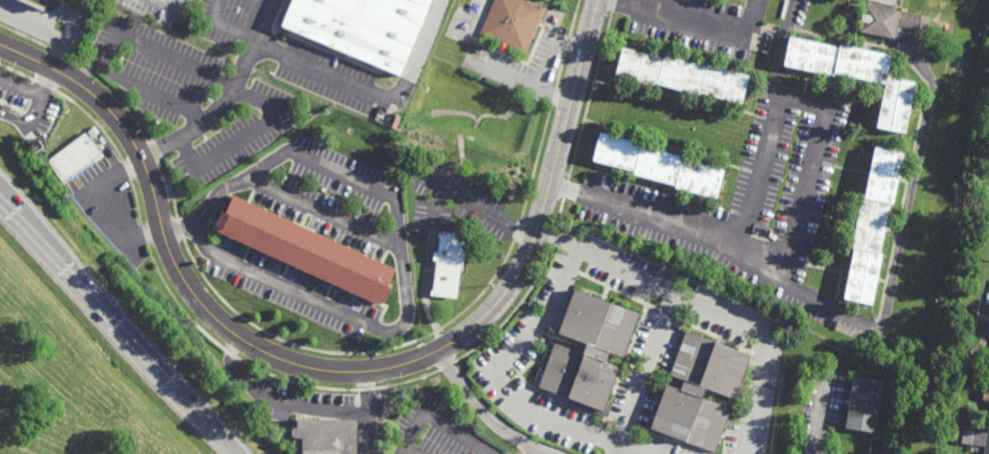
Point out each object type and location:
road: (266, 1)
building: (40, 2)
road: (160, 10)
building: (886, 21)
road: (697, 23)
building: (511, 24)
road: (222, 27)
building: (360, 28)
road: (44, 30)
road: (782, 47)
road: (552, 50)
road: (196, 69)
building: (680, 76)
building: (855, 76)
road: (520, 80)
road: (20, 87)
road: (376, 94)
road: (39, 97)
road: (228, 97)
road: (812, 102)
road: (14, 116)
building: (80, 154)
building: (658, 164)
road: (109, 205)
road: (476, 207)
road: (438, 209)
road: (324, 214)
building: (871, 223)
building: (305, 247)
road: (400, 249)
road: (606, 260)
building: (446, 262)
road: (120, 319)
road: (853, 320)
road: (763, 344)
building: (587, 348)
road: (338, 371)
road: (643, 373)
road: (498, 380)
building: (699, 390)
building: (985, 393)
road: (277, 401)
building: (863, 403)
building: (988, 408)
road: (366, 412)
road: (484, 412)
road: (820, 415)
road: (439, 421)
building: (326, 435)
building: (976, 437)
road: (410, 451)
road: (539, 452)

